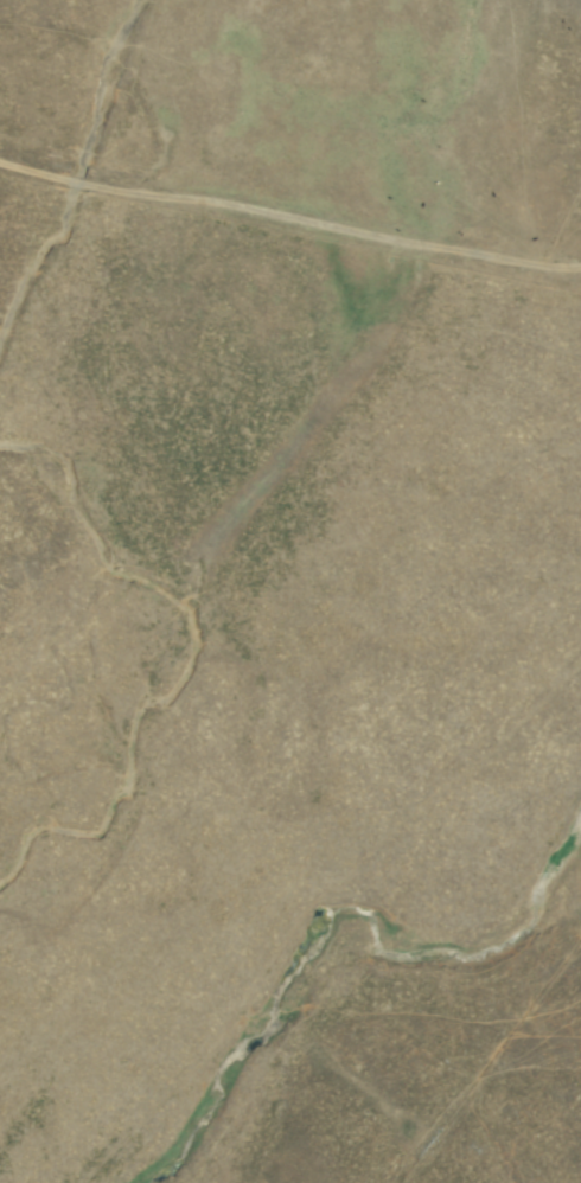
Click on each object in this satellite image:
road: (289, 220)
road: (493, 1066)

